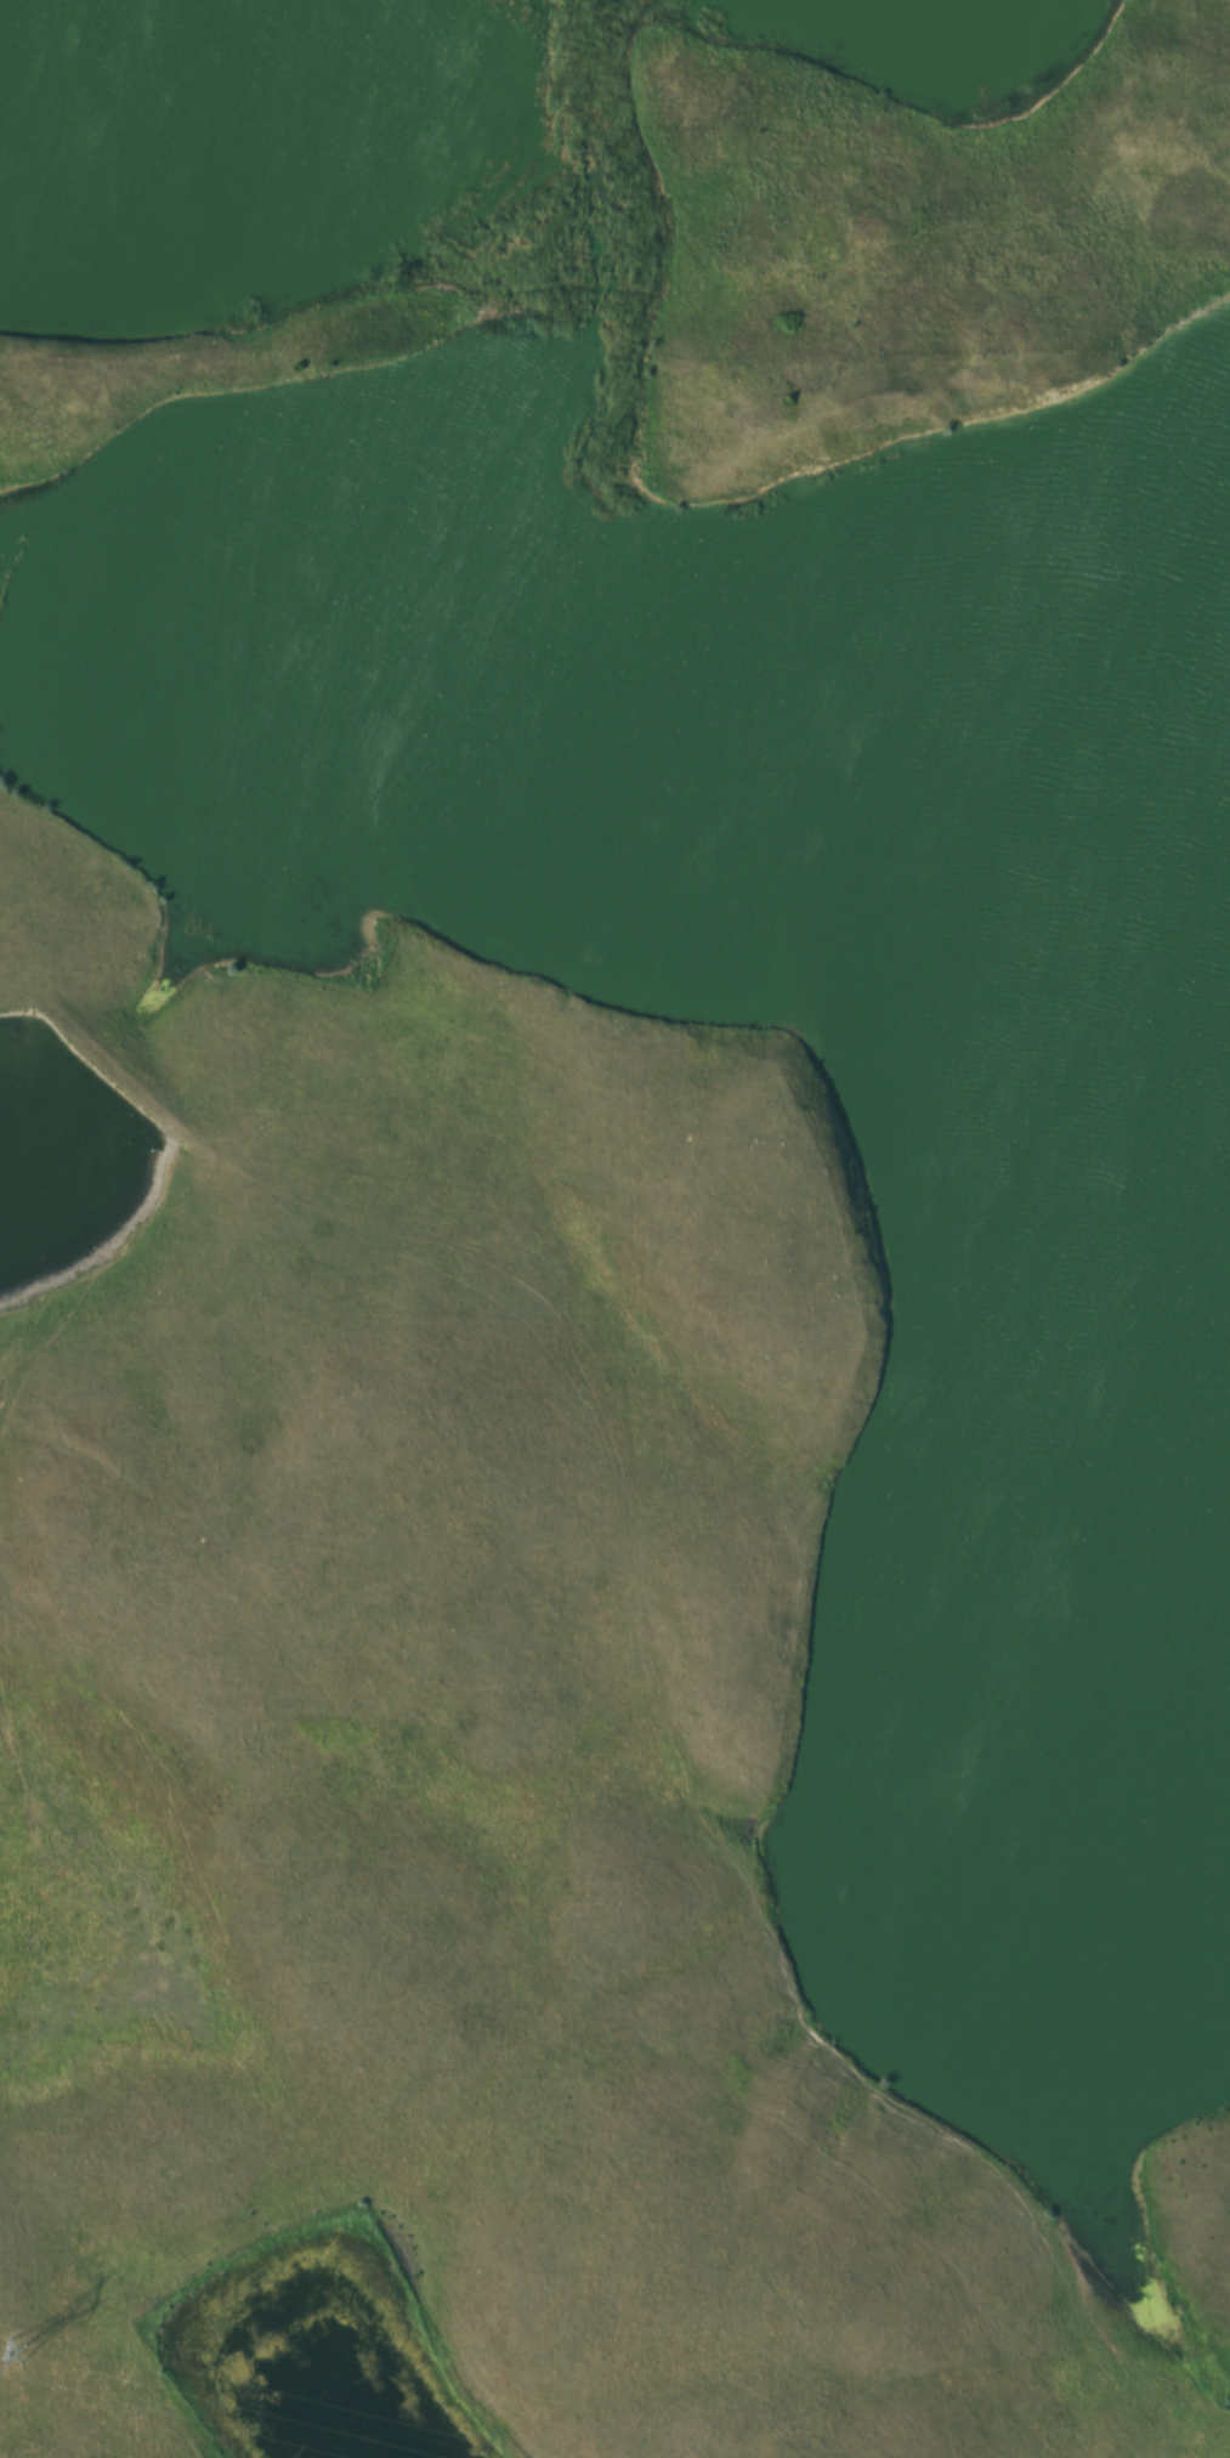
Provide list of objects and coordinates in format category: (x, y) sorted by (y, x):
power tower: (23, 2351)

